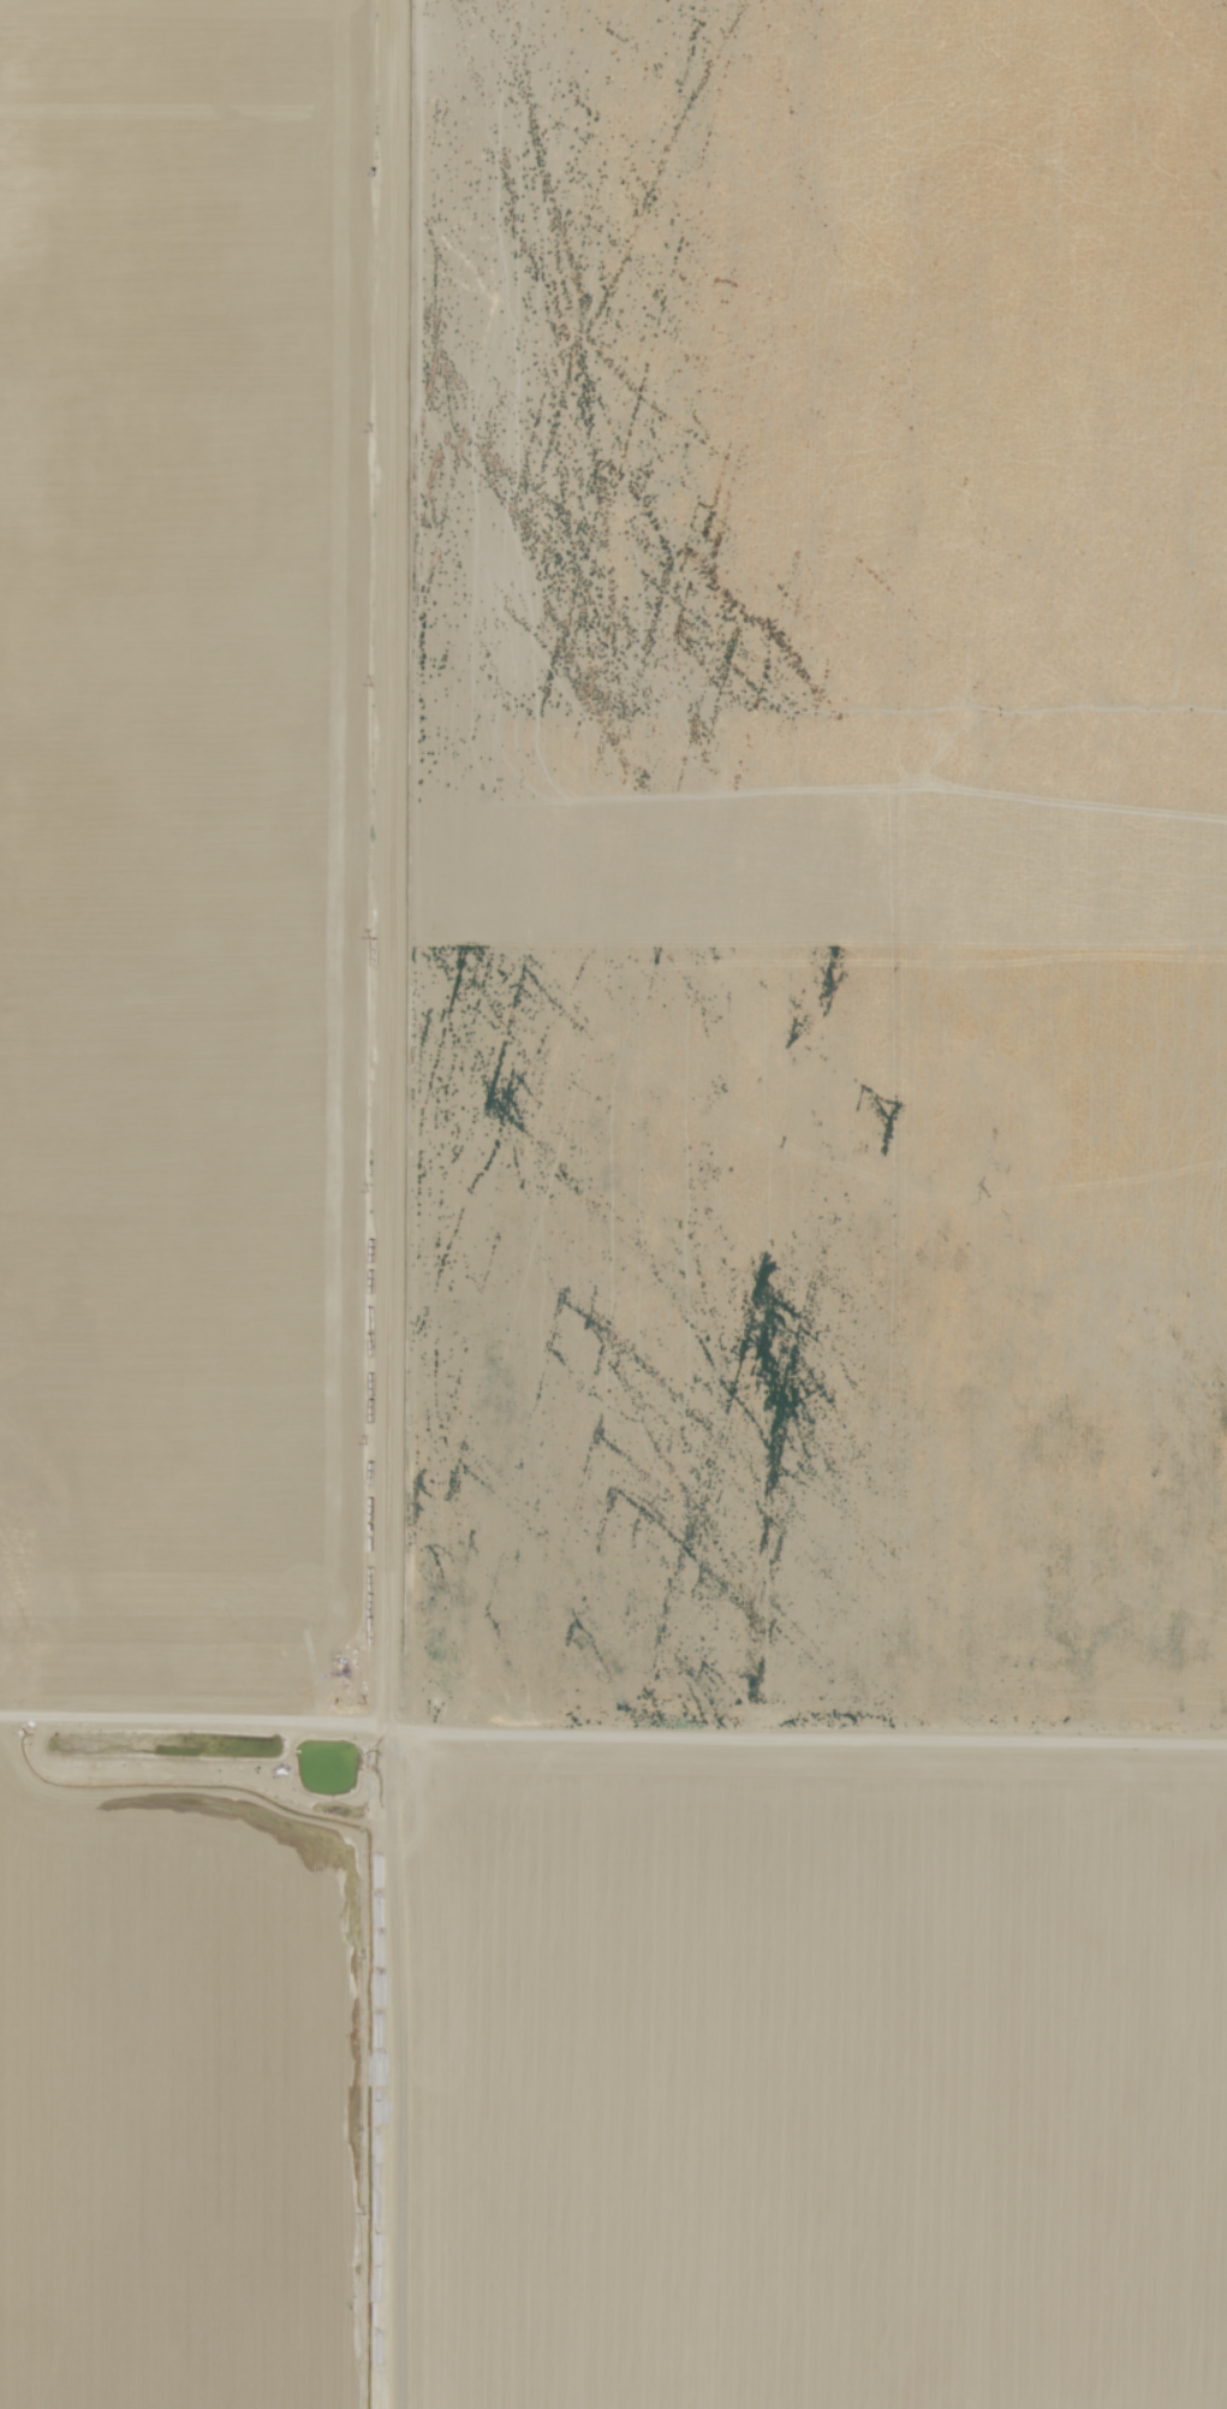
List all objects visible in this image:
crop: (189, 860)
road: (387, 1204)
road: (613, 1735)
road: (189, 1776)
crop: (802, 2075)

